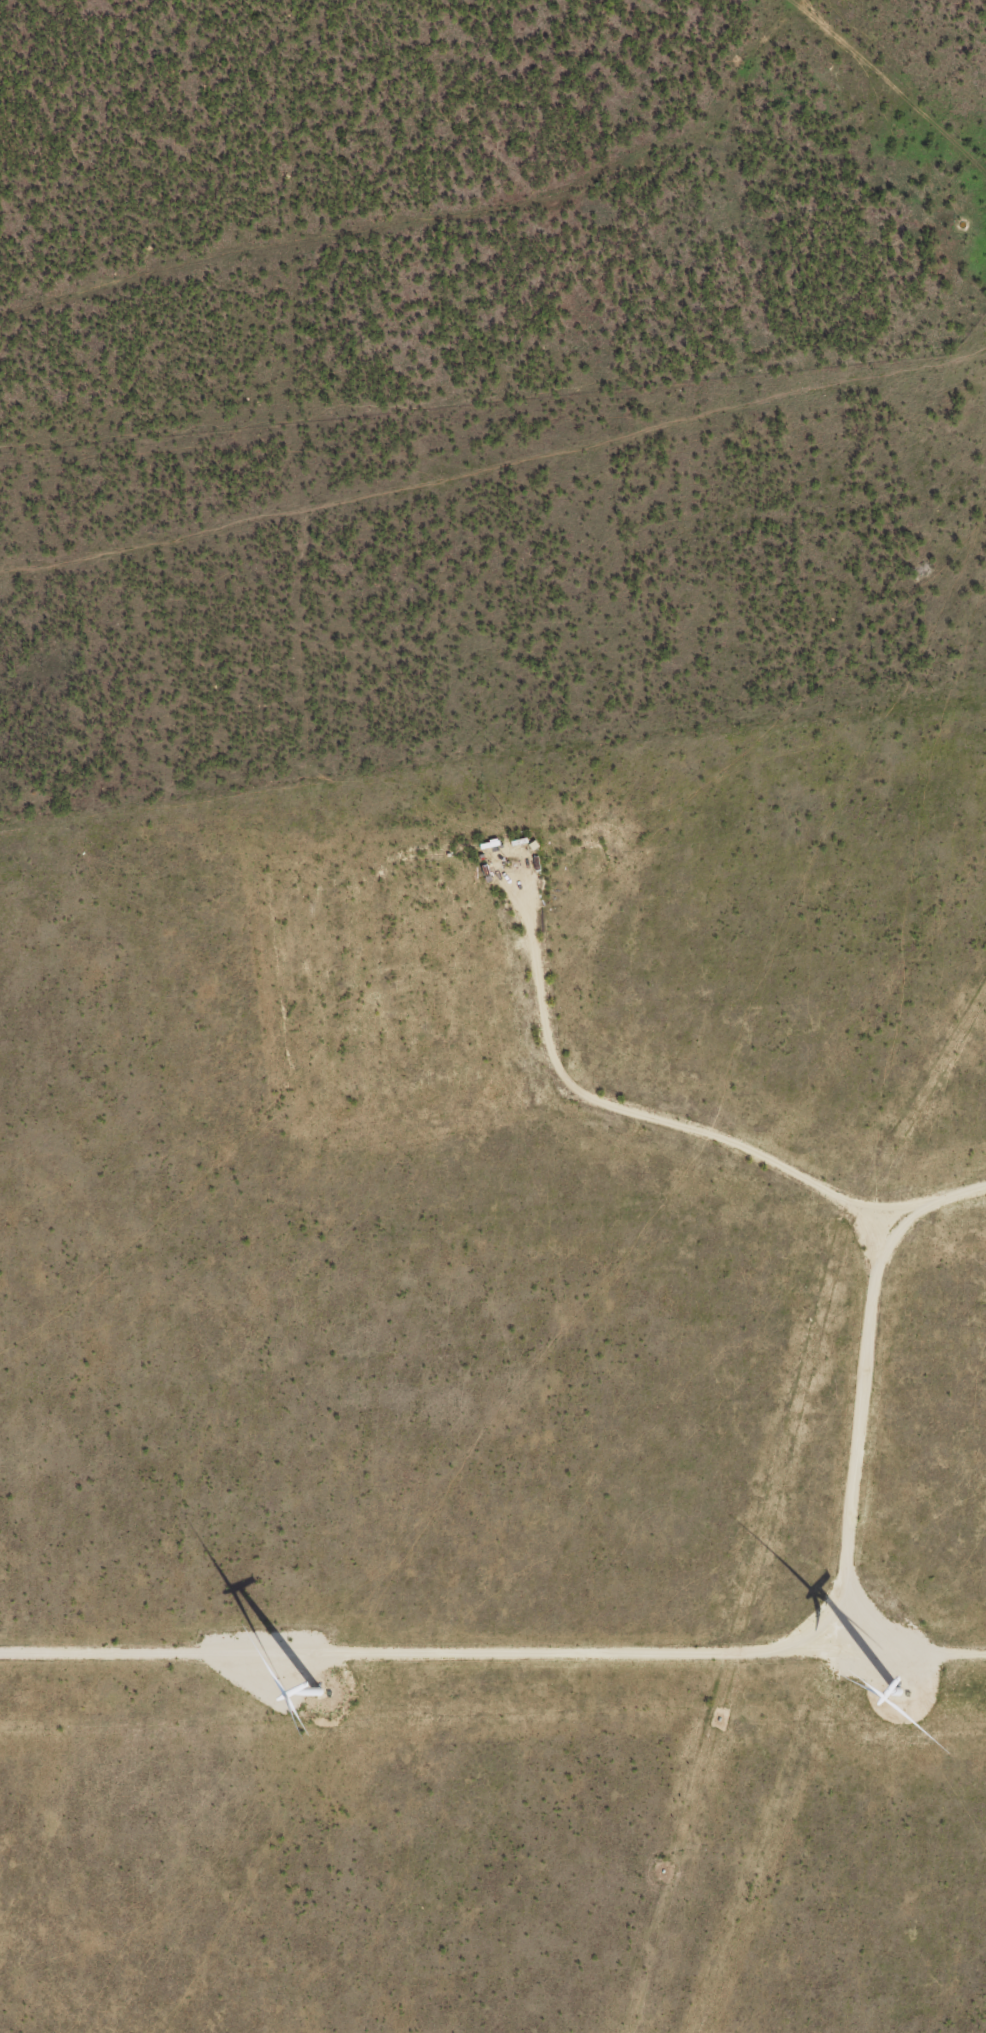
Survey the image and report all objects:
road: (448, 270)
road: (500, 569)
wind turbine: (327, 1683)
wind turbine: (906, 1683)

